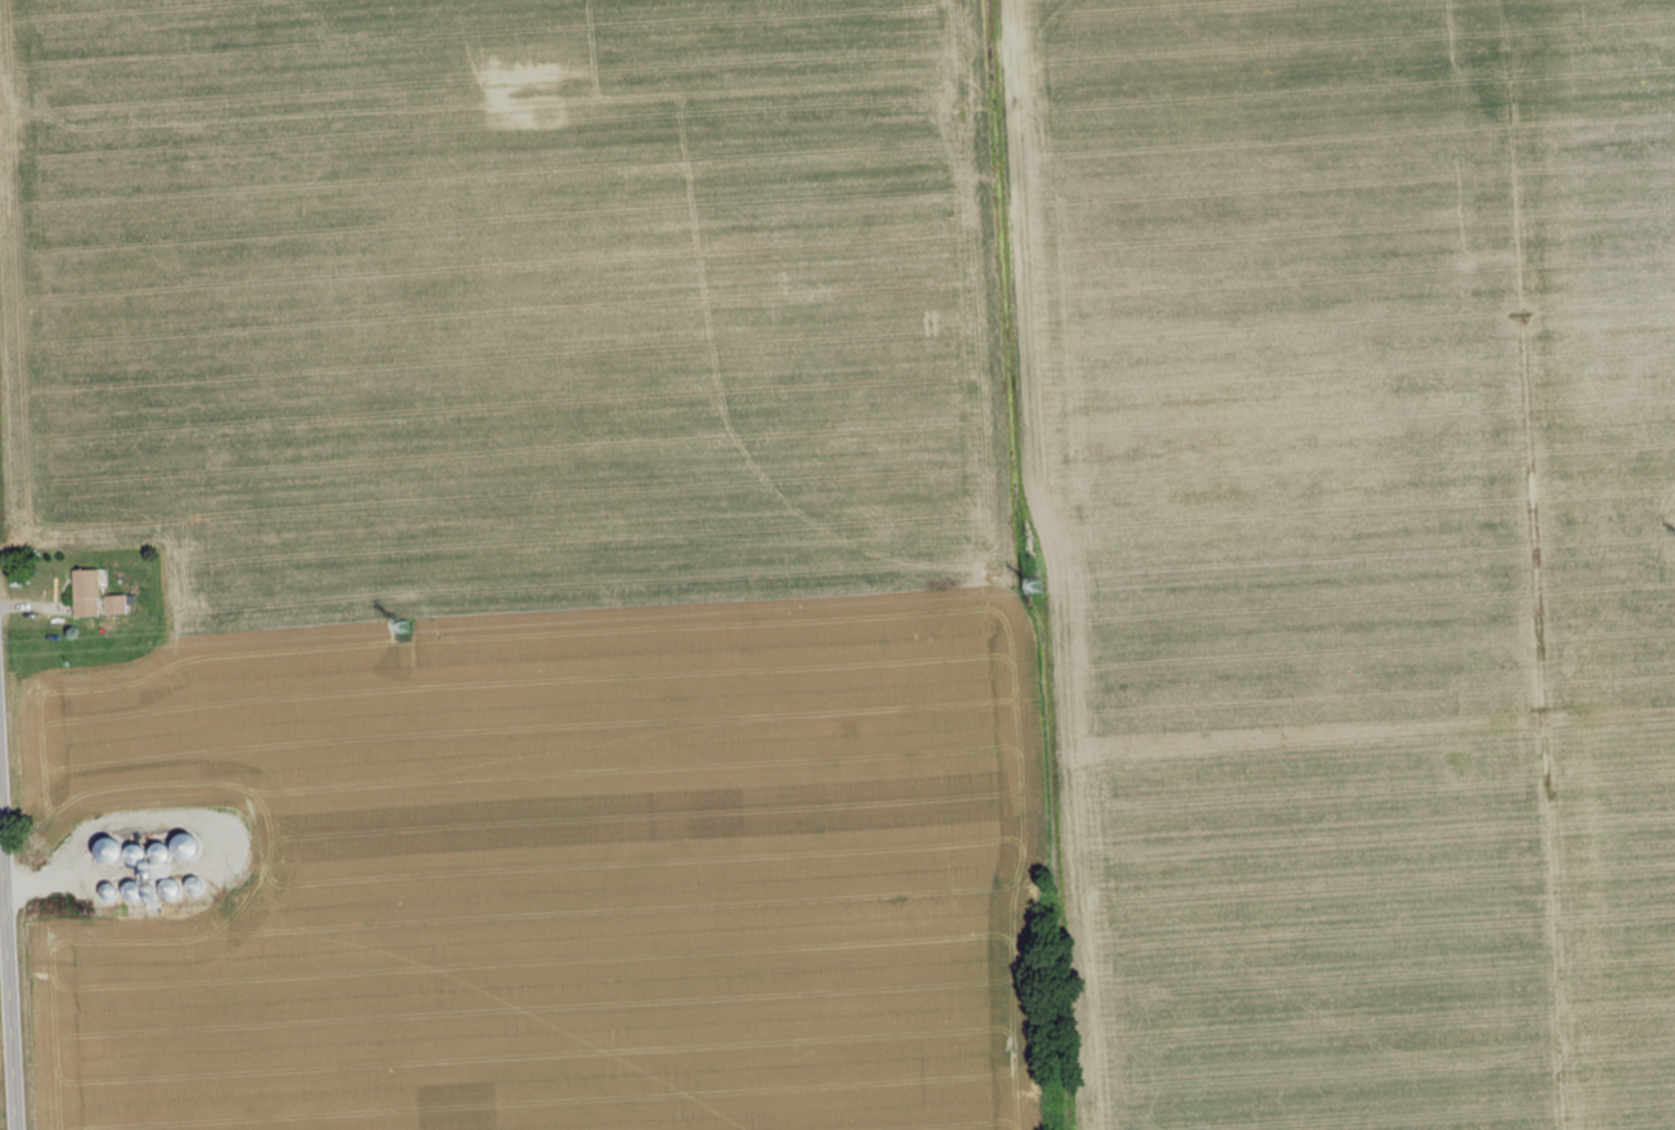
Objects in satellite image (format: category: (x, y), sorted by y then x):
power tower: (1036, 584)
building: (93, 592)
power tower: (406, 628)
road: (0, 853)
road: (7, 979)

